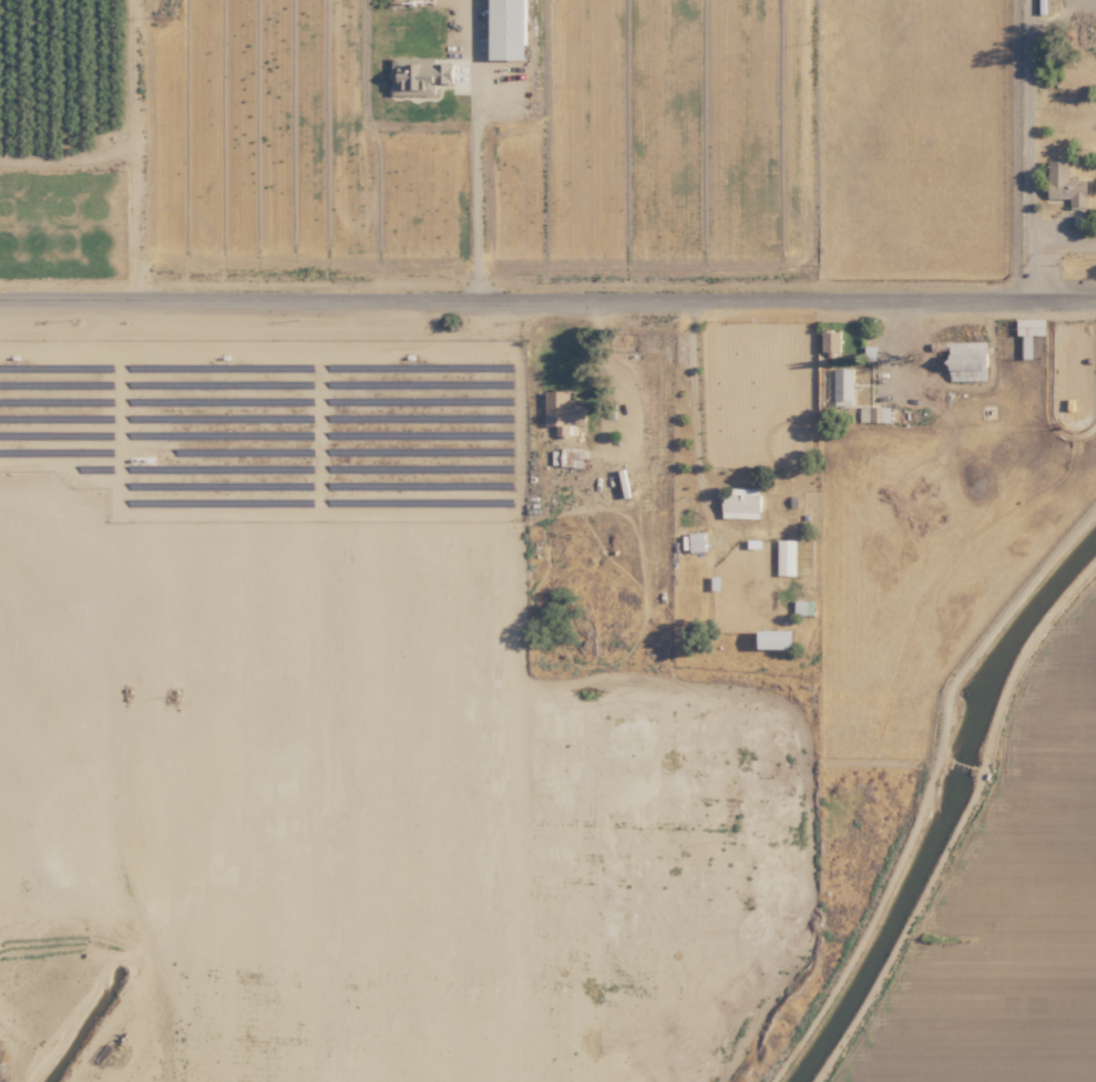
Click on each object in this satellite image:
building: (506, 29)
building: (419, 72)
road: (1035, 150)
crop: (464, 157)
road: (464, 184)
building: (1066, 185)
road: (547, 299)
building: (1036, 326)
building: (830, 340)
building: (969, 360)
building: (843, 385)
building: (560, 408)
building: (741, 502)
building: (696, 540)
building: (786, 556)
building: (777, 639)
crop: (1006, 897)

